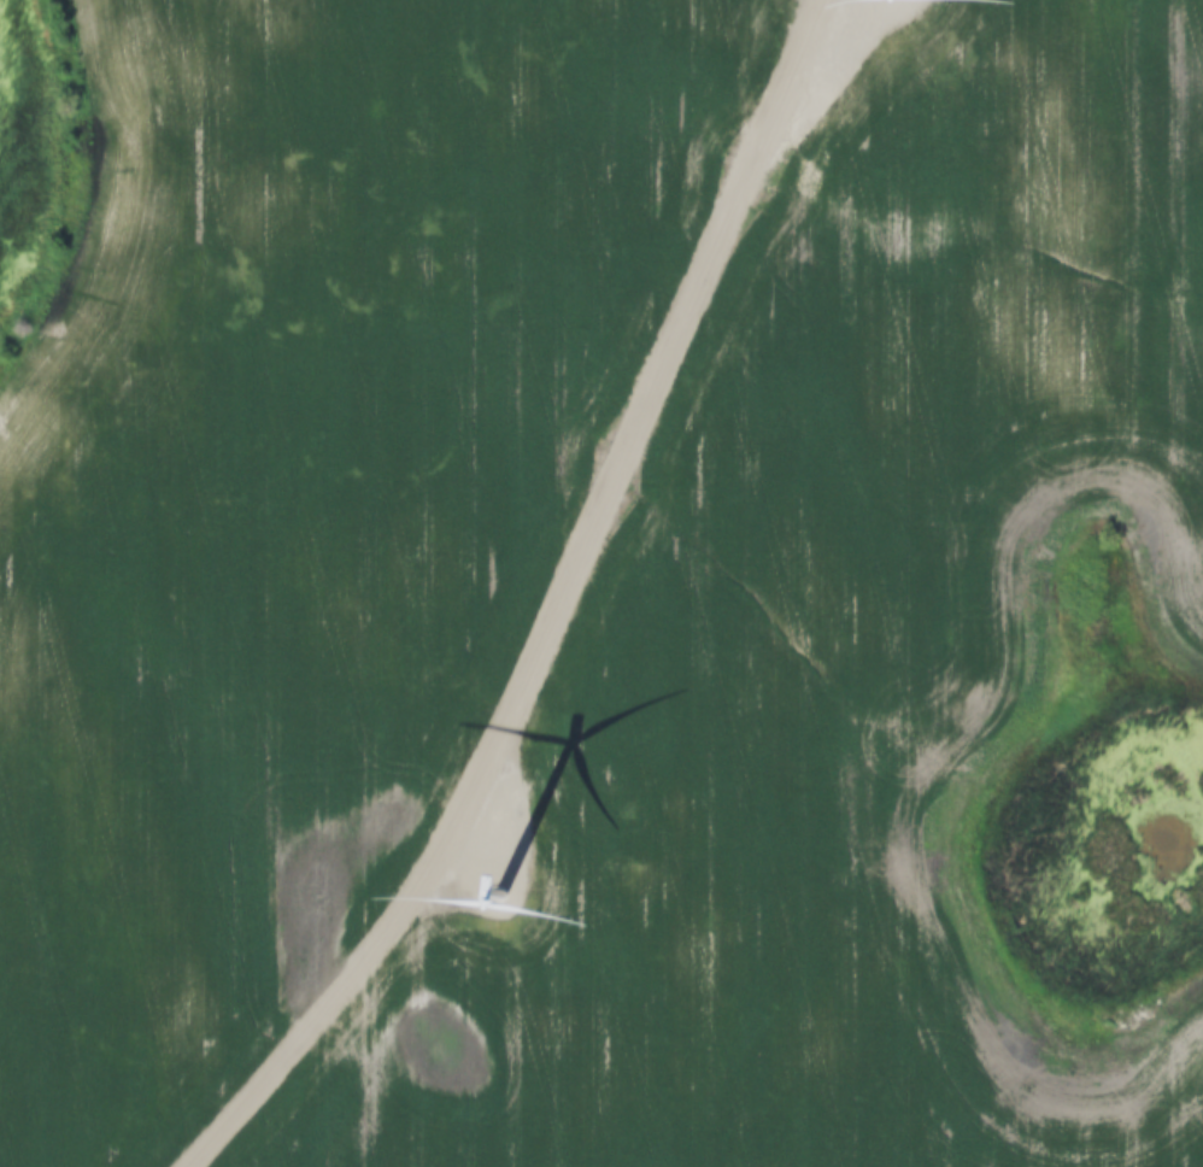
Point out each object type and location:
wind turbine: (491, 891)

